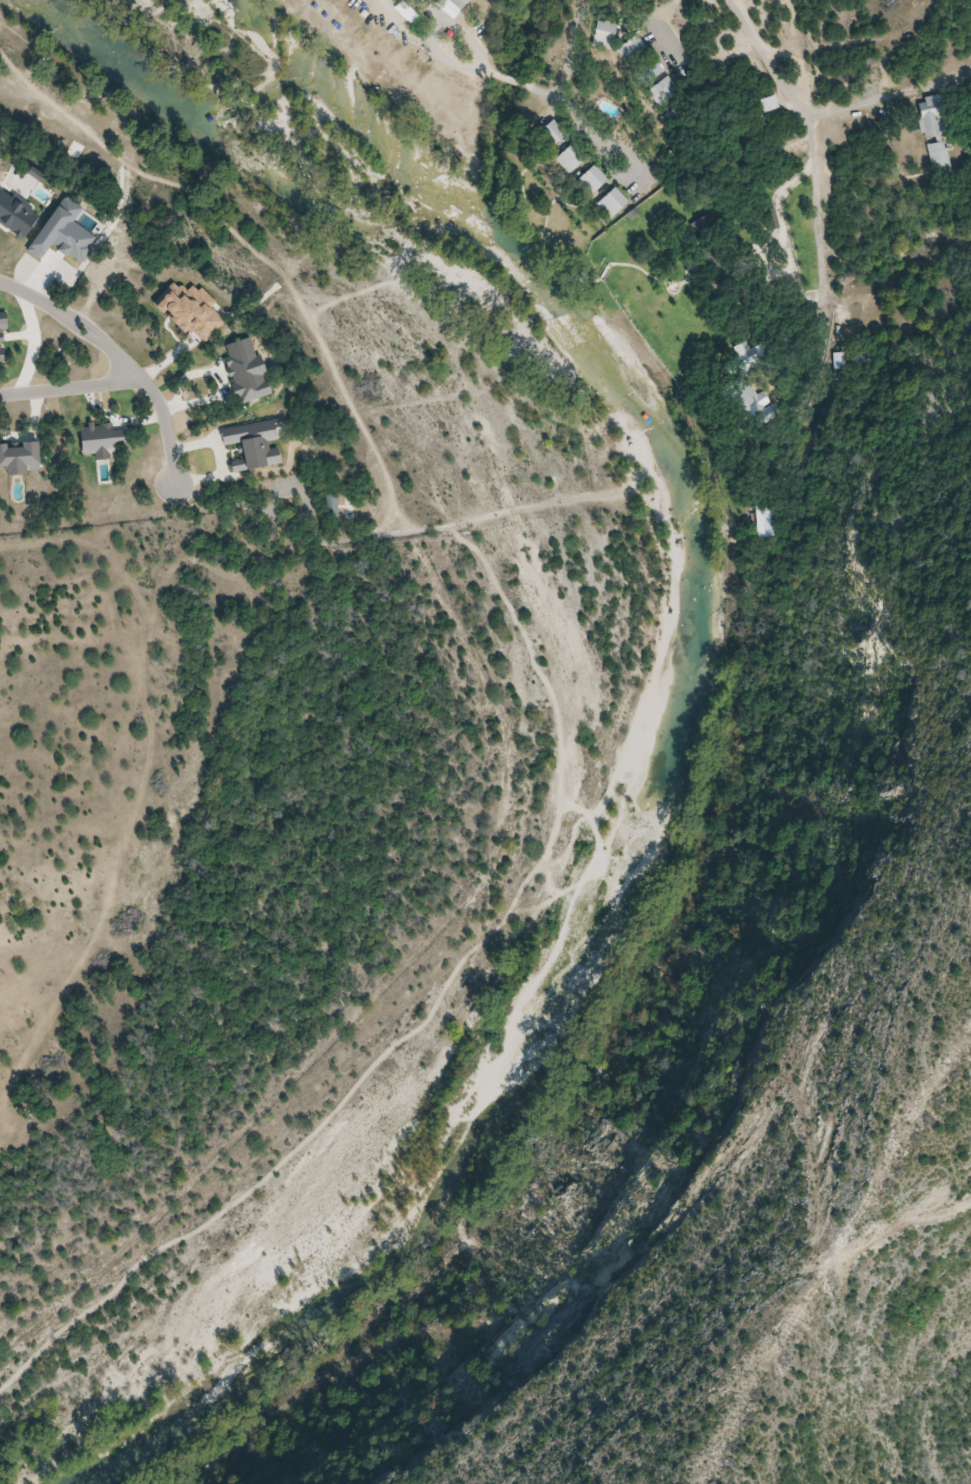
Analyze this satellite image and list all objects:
building: (453, 3)
road: (386, 13)
building: (601, 35)
building: (630, 50)
building: (646, 70)
building: (663, 91)
building: (765, 104)
building: (931, 117)
building: (548, 135)
building: (938, 156)
building: (567, 158)
building: (589, 180)
building: (610, 203)
road: (123, 359)
building: (841, 361)
building: (748, 362)
road: (71, 388)
building: (328, 507)
building: (765, 522)
river: (689, 698)

